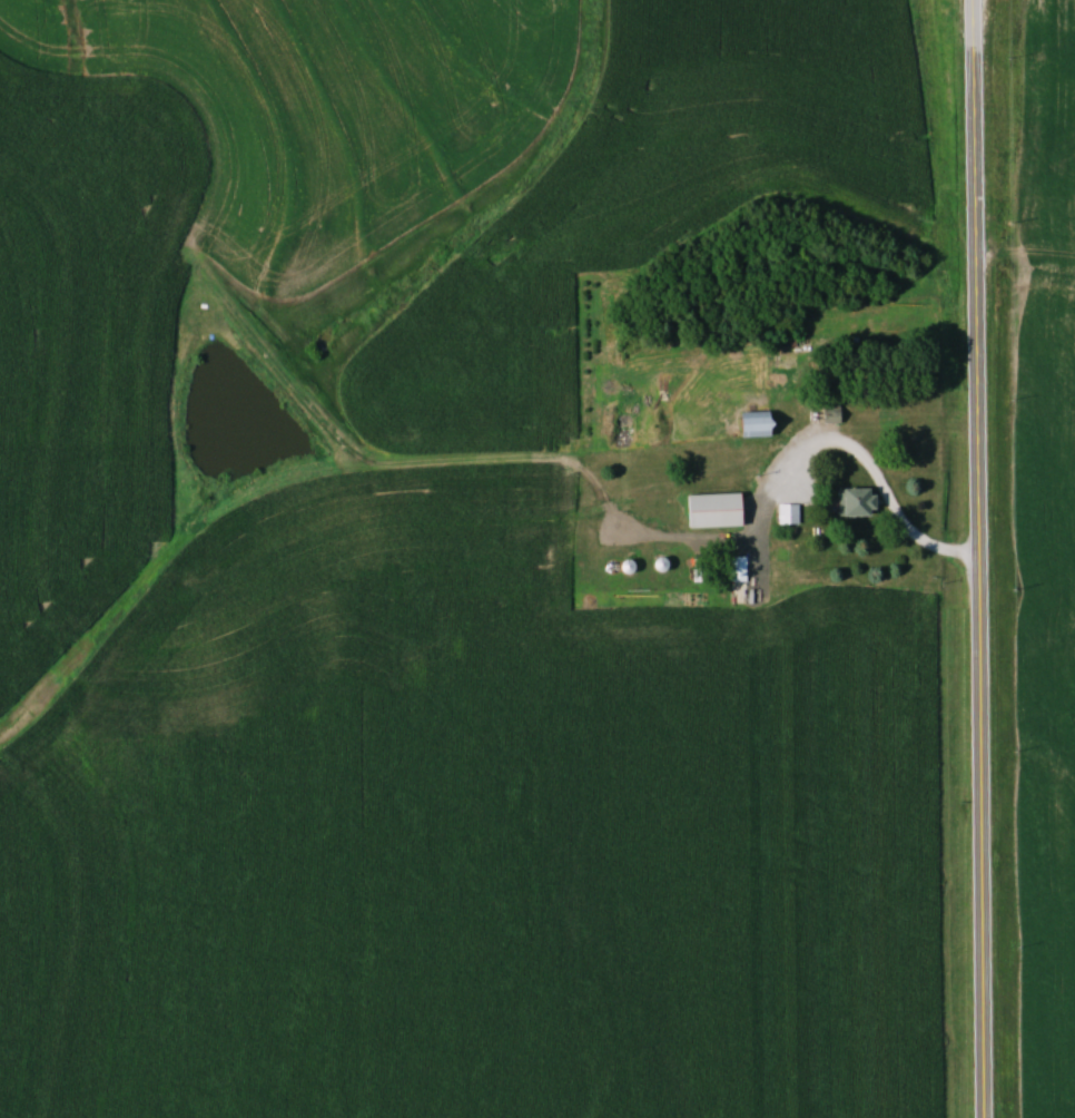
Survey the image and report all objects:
building: (750, 423)
road: (885, 486)
building: (854, 502)
building: (711, 511)
building: (787, 513)
road: (976, 559)
building: (737, 569)

